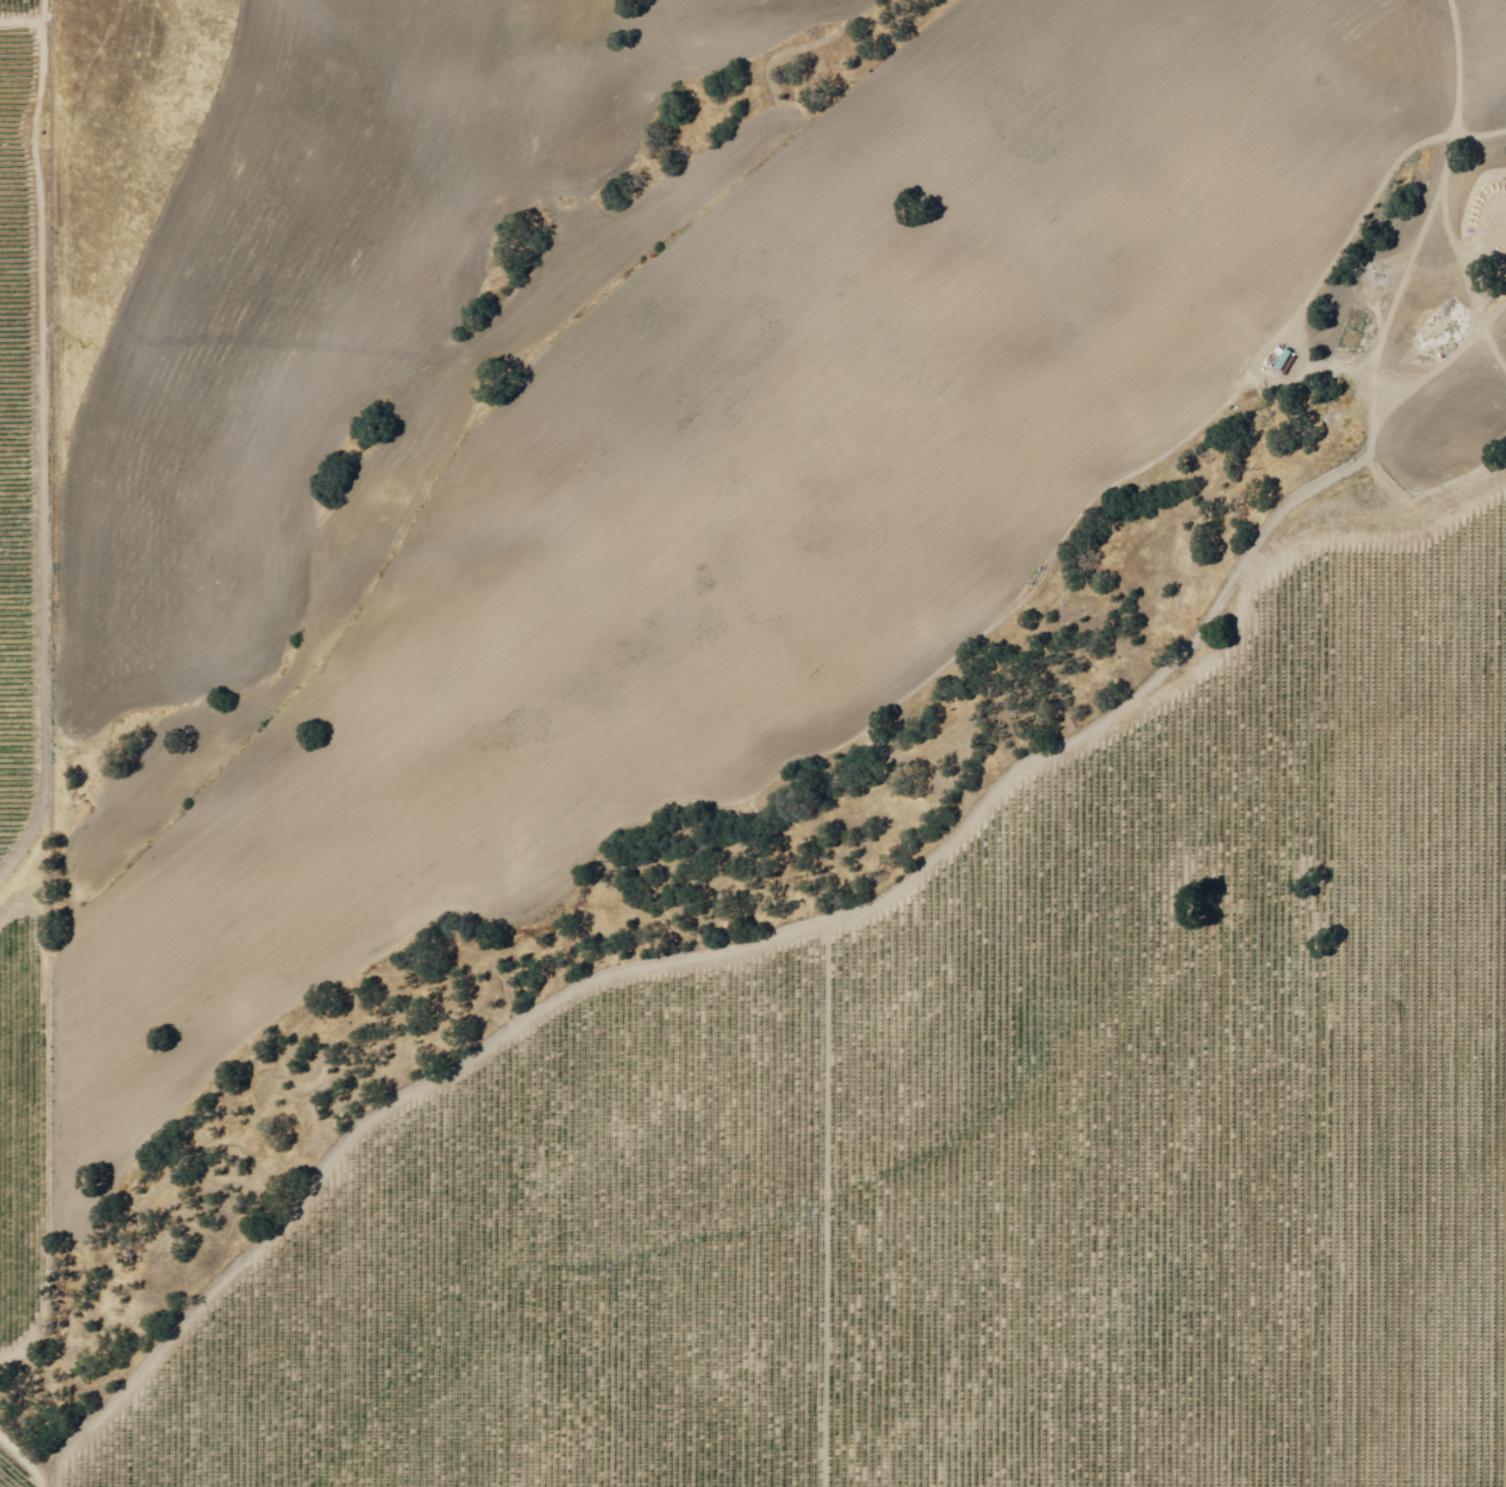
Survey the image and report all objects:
building: (1281, 360)

